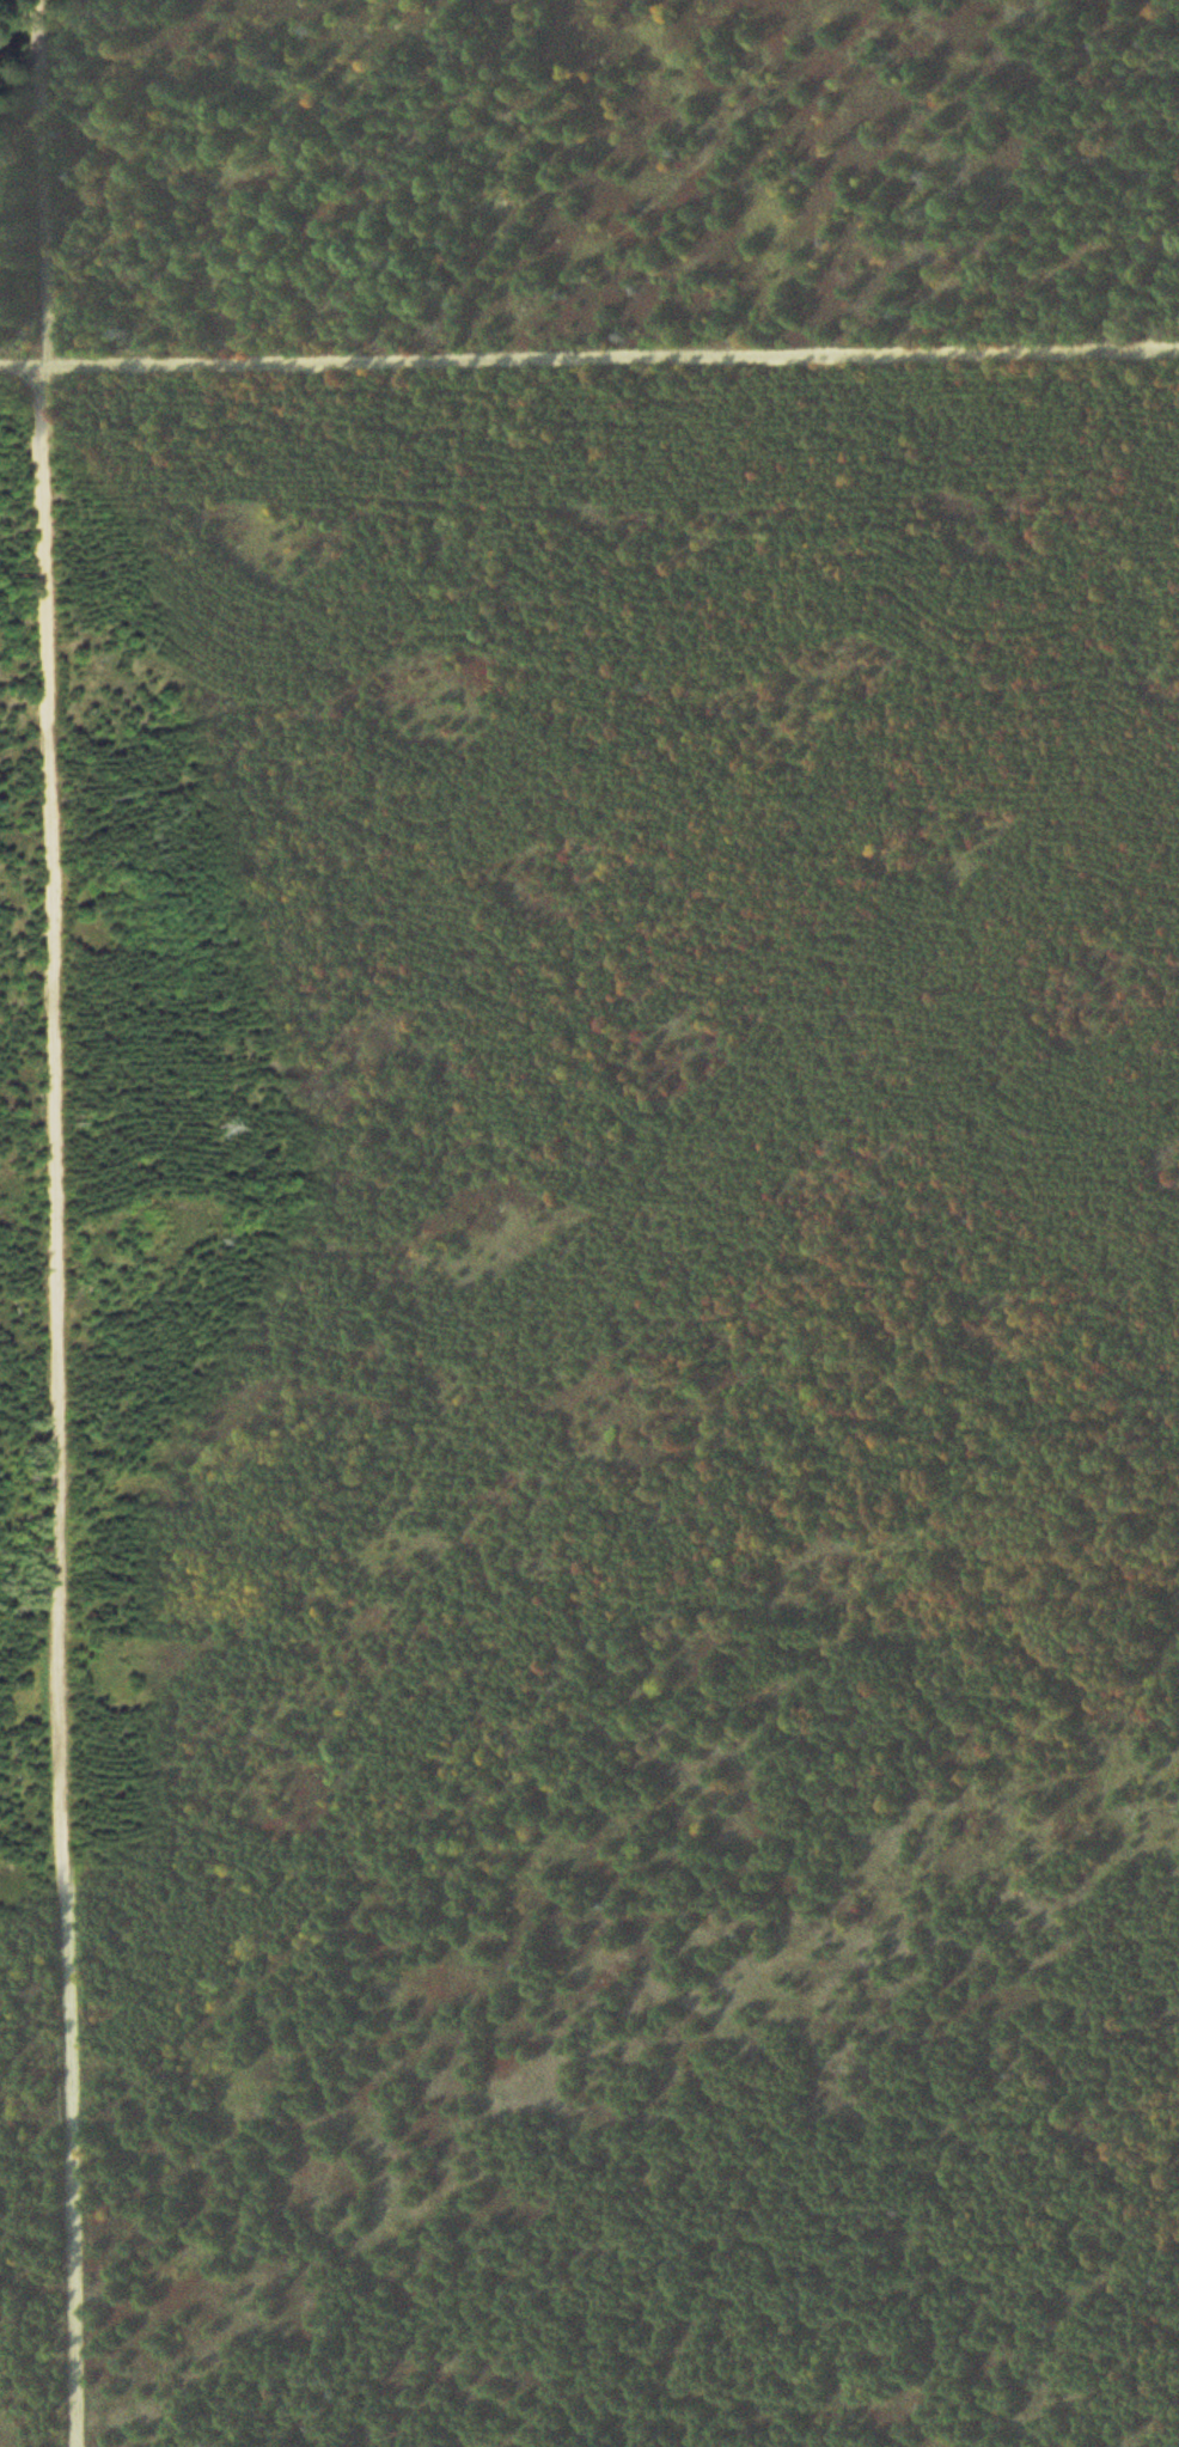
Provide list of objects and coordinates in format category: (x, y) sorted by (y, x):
road: (686, 178)
road: (588, 355)
road: (61, 1223)

